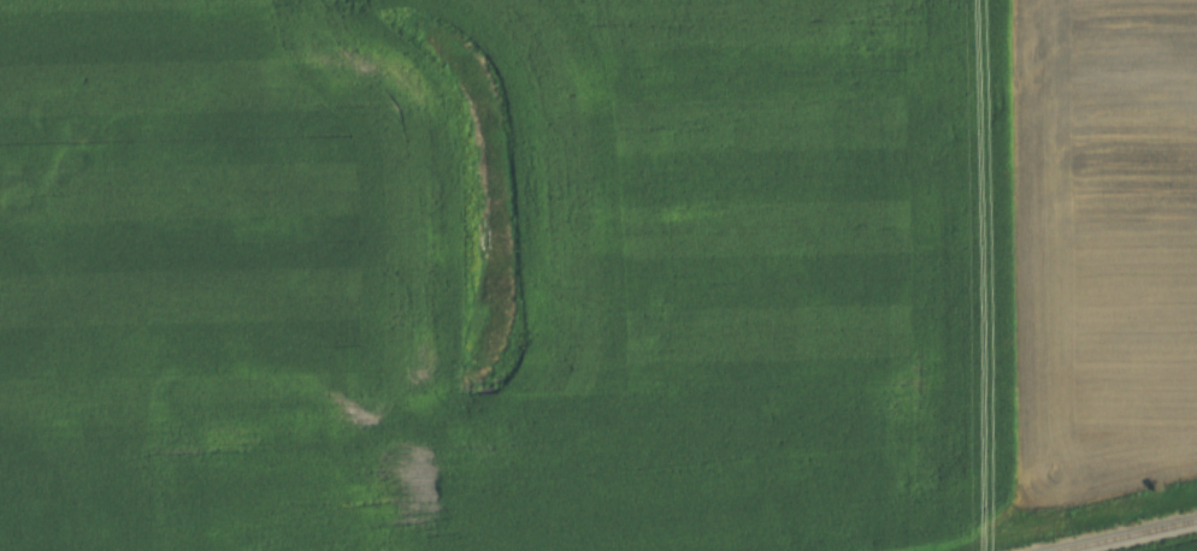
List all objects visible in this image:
railway: (1122, 534)

